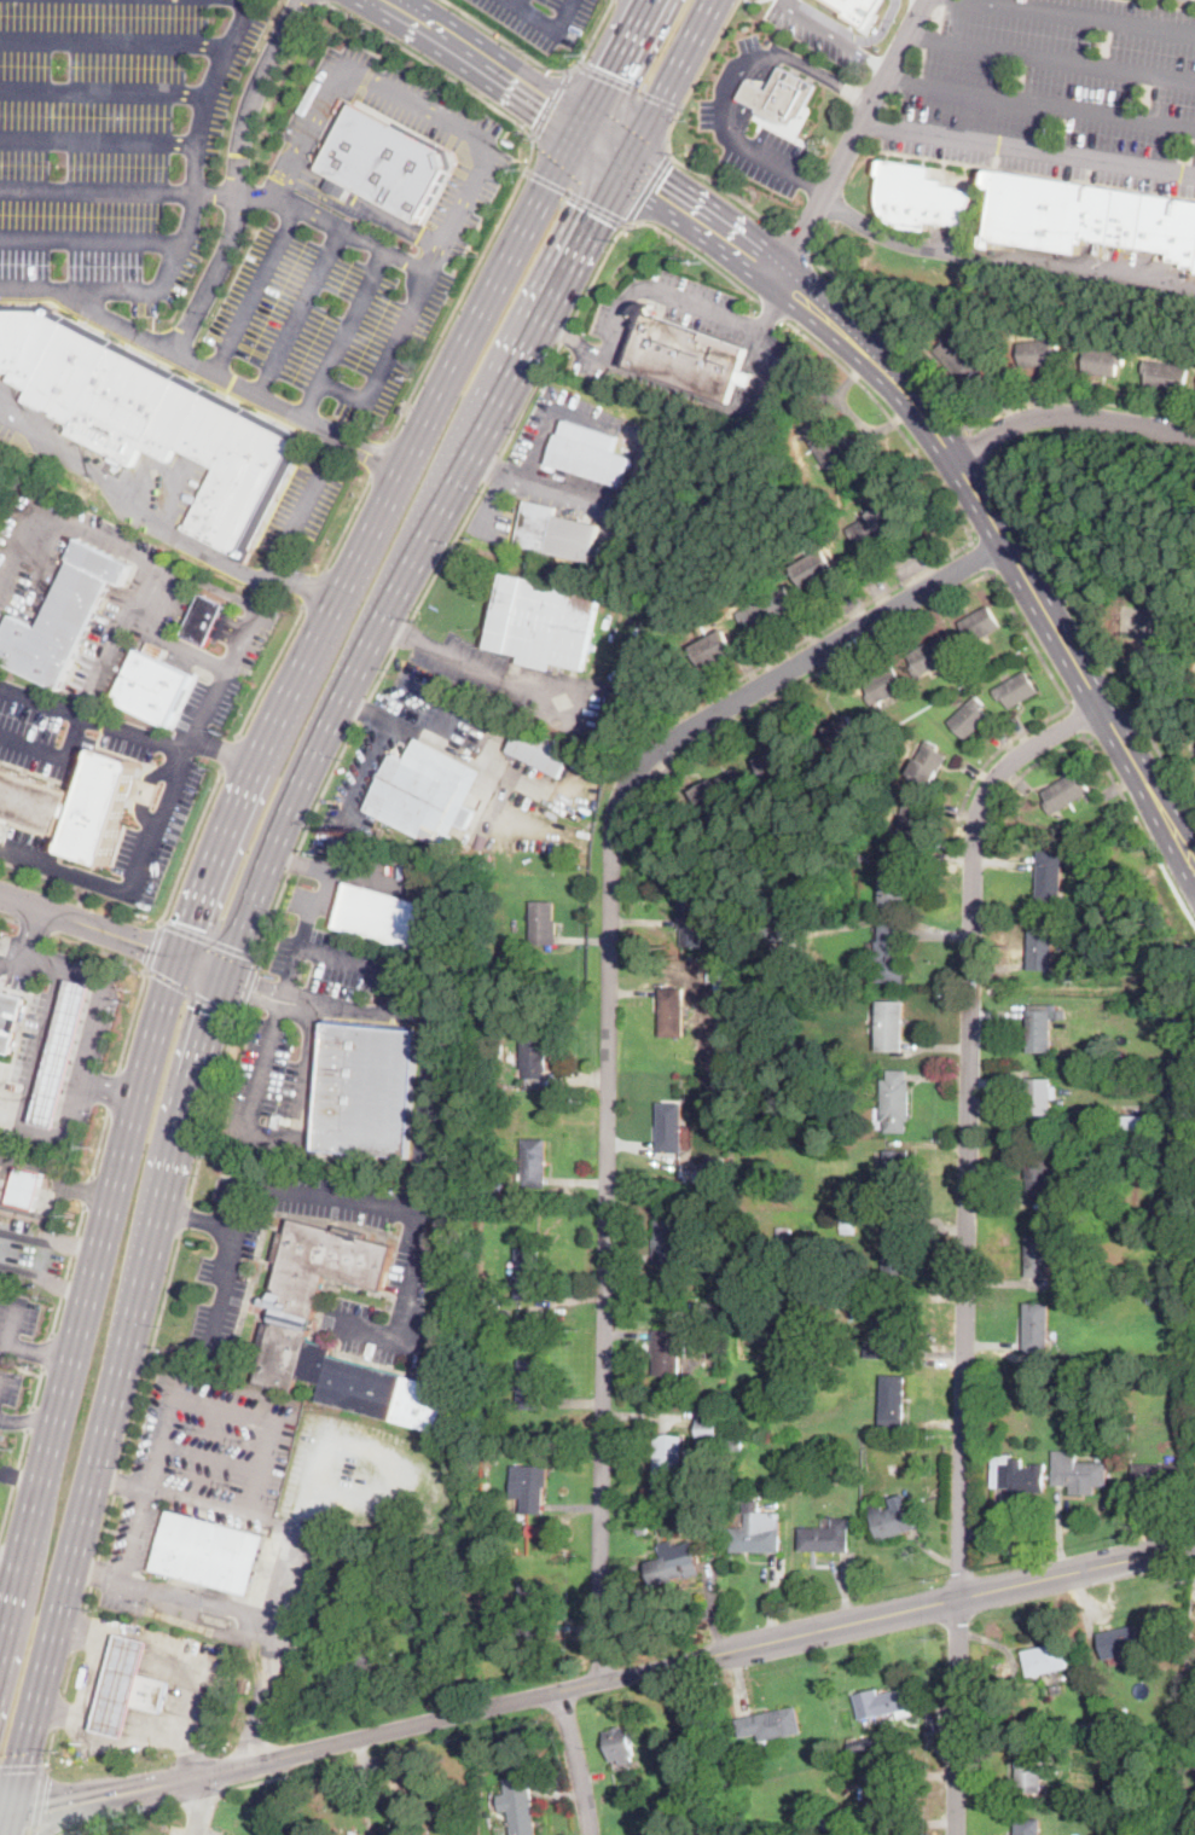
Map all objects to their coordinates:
road: (317, 1)
parking lot: (924, 4)
building: (853, 11)
road: (1072, 16)
parking lot: (543, 18)
road: (550, 25)
parking lot: (909, 30)
road: (835, 34)
road: (591, 35)
parking lot: (834, 39)
road: (505, 40)
road: (114, 41)
road: (384, 46)
road: (1052, 57)
road: (483, 59)
road: (430, 63)
traffic signals: (604, 68)
road: (697, 74)
road: (668, 82)
road: (736, 82)
road: (628, 85)
parking lot: (1052, 89)
road: (752, 91)
road: (103, 92)
building: (782, 97)
road: (1042, 99)
traffic signals: (545, 101)
road: (551, 101)
road: (439, 114)
parking lot: (726, 114)
road: (853, 139)
road: (98, 140)
road: (601, 144)
parking lot: (114, 145)
road: (1029, 149)
parking lot: (477, 151)
building: (387, 162)
road: (284, 169)
road: (237, 174)
road: (648, 186)
road: (724, 190)
road: (95, 191)
traffic signals: (654, 193)
road: (575, 194)
road: (325, 196)
building: (923, 198)
road: (365, 203)
road: (314, 214)
traffic signals: (597, 215)
building: (1087, 216)
road: (188, 221)
road: (628, 222)
road: (706, 228)
road: (89, 240)
road: (793, 243)
road: (696, 252)
road: (1002, 259)
road: (596, 271)
road: (255, 288)
road: (463, 288)
road: (651, 291)
road: (770, 308)
road: (300, 310)
road: (773, 310)
parking lot: (327, 320)
parking lot: (726, 326)
road: (344, 332)
road: (562, 332)
road: (565, 333)
road: (894, 339)
building: (1038, 353)
building: (688, 356)
building: (958, 356)
road: (388, 359)
building: (1103, 361)
building: (1166, 376)
road: (228, 377)
building: (746, 378)
parking lot: (1, 399)
road: (1079, 399)
road: (1069, 414)
road: (891, 417)
building: (152, 418)
building: (824, 443)
road: (980, 443)
parking lot: (530, 449)
road: (539, 454)
building: (591, 454)
road: (382, 458)
road: (488, 469)
building: (68, 474)
road: (565, 497)
road: (123, 498)
road: (302, 498)
parking lot: (302, 505)
parking lot: (493, 519)
road: (348, 524)
building: (875, 525)
building: (557, 533)
road: (106, 538)
road: (981, 554)
road: (1014, 559)
building: (814, 568)
road: (303, 579)
parking lot: (161, 588)
road: (315, 590)
road: (424, 596)
building: (766, 609)
building: (64, 617)
road: (843, 619)
building: (205, 620)
road: (120, 622)
building: (545, 622)
park: (1148, 622)
building: (979, 625)
road: (1090, 632)
road: (1029, 637)
road: (174, 643)
building: (714, 649)
road: (233, 651)
building: (929, 656)
road: (463, 663)
road: (1143, 663)
parking lot: (227, 666)
road: (271, 673)
road: (813, 675)
road: (1142, 683)
building: (883, 685)
building: (153, 689)
building: (1017, 690)
road: (82, 714)
building: (970, 718)
road: (1077, 720)
road: (405, 728)
building: (845, 731)
parking lot: (64, 734)
road: (376, 743)
road: (210, 745)
road: (1007, 745)
parking lot: (393, 747)
building: (541, 750)
road: (56, 753)
road: (231, 754)
building: (775, 762)
building: (929, 763)
road: (242, 789)
road: (149, 790)
building: (721, 790)
building: (147, 791)
building: (427, 792)
building: (1065, 792)
road: (1126, 801)
building: (76, 805)
building: (913, 815)
parking lot: (153, 840)
road: (192, 846)
parking lot: (30, 849)
road: (291, 860)
road: (300, 860)
building: (1051, 876)
road: (134, 879)
building: (895, 882)
road: (313, 904)
road: (271, 913)
building: (694, 914)
building: (384, 916)
road: (10, 918)
traffic signals: (187, 922)
building: (544, 923)
road: (37, 928)
building: (773, 929)
road: (111, 931)
road: (35, 935)
road: (209, 939)
building: (708, 942)
traffic signals: (147, 945)
road: (156, 947)
road: (101, 950)
building: (1040, 950)
building: (893, 953)
road: (13, 959)
road: (222, 966)
road: (292, 966)
building: (1072, 974)
parking lot: (18, 975)
building: (719, 985)
road: (245, 987)
road: (190, 991)
traffic signals: (254, 992)
building: (720, 1004)
road: (609, 1005)
traffic signals: (210, 1012)
building: (673, 1012)
building: (1181, 1018)
building: (10, 1020)
road: (132, 1021)
building: (892, 1027)
parking lot: (311, 1030)
building: (1039, 1032)
parking lot: (37, 1034)
building: (499, 1047)
road: (42, 1049)
road: (91, 1052)
gas station: (64, 1053)
building: (65, 1053)
building: (534, 1055)
building: (1110, 1055)
road: (304, 1073)
parking lot: (2, 1074)
road: (109, 1088)
building: (768, 1088)
road: (112, 1091)
building: (369, 1091)
building: (1184, 1093)
building: (897, 1101)
building: (1040, 1101)
road: (210, 1107)
road: (428, 1108)
building: (277, 1120)
building: (1090, 1120)
building: (1137, 1125)
building: (672, 1127)
road: (100, 1145)
building: (534, 1163)
building: (718, 1167)
parking lot: (6, 1168)
building: (894, 1169)
building: (1040, 1180)
building: (29, 1185)
building: (497, 1185)
road: (246, 1186)
road: (62, 1190)
road: (86, 1190)
road: (87, 1191)
road: (181, 1215)
road: (197, 1219)
building: (848, 1226)
road: (0, 1229)
building: (784, 1236)
road: (48, 1237)
road: (965, 1239)
building: (667, 1243)
building: (897, 1245)
building: (723, 1247)
building: (1038, 1253)
parking lot: (33, 1256)
parking lot: (220, 1259)
road: (16, 1270)
building: (720, 1270)
building: (753, 1270)
road: (68, 1271)
building: (528, 1273)
building: (662, 1281)
road: (57, 1283)
building: (743, 1288)
building: (313, 1295)
building: (492, 1296)
building: (810, 1296)
building: (1153, 1297)
parking lot: (354, 1302)
building: (714, 1312)
road: (16, 1320)
parking lot: (18, 1320)
building: (1037, 1328)
building: (889, 1332)
road: (40, 1349)
road: (149, 1351)
building: (669, 1351)
road: (46, 1352)
building: (530, 1372)
building: (1062, 1376)
road: (1, 1377)
road: (37, 1386)
building: (361, 1387)
parking lot: (11, 1395)
building: (530, 1396)
building: (893, 1401)
building: (422, 1403)
road: (29, 1417)
road: (28, 1418)
building: (1106, 1423)
building: (704, 1425)
road: (164, 1432)
road: (215, 1445)
building: (735, 1445)
parking lot: (215, 1447)
parking lot: (1, 1453)
building: (1040, 1454)
road: (266, 1456)
building: (667, 1462)
building: (1078, 1473)
road: (19, 1474)
building: (1017, 1475)
building: (1154, 1475)
parking lot: (371, 1479)
road: (13, 1480)
road: (116, 1480)
road: (118, 1481)
building: (799, 1481)
building: (534, 1490)
building: (667, 1508)
building: (893, 1520)
road: (105, 1523)
building: (675, 1527)
building: (708, 1531)
building: (759, 1532)
parking lot: (135, 1537)
building: (825, 1537)
building: (210, 1552)
road: (10, 1558)
building: (674, 1563)
road: (94, 1569)
road: (94, 1569)
parking lot: (286, 1586)
road: (87, 1596)
parking lot: (180, 1604)
building: (533, 1608)
road: (277, 1616)
road: (79, 1630)
road: (0, 1633)
building: (1121, 1643)
building: (369, 1656)
building: (1045, 1660)
road: (659, 1667)
road: (199, 1668)
road: (68, 1672)
road: (94, 1674)
building: (128, 1688)
gas station: (128, 1688)
building: (245, 1688)
building: (1056, 1688)
road: (265, 1691)
building: (882, 1702)
road: (57, 1709)
road: (133, 1725)
building: (771, 1726)
building: (1058, 1727)
building: (1092, 1727)
building: (1060, 1741)
building: (622, 1744)
building: (862, 1746)
building: (495, 1747)
road: (48, 1748)
building: (1049, 1752)
building: (686, 1754)
road: (576, 1761)
road: (22, 1765)
building: (1029, 1772)
building: (1123, 1772)
road: (254, 1779)
road: (203, 1795)
road: (202, 1798)
road: (37, 1801)
building: (888, 1802)
road: (62, 1806)
traffic signals: (45, 1810)
road: (82, 1811)
road: (123, 1816)
building: (523, 1816)
building: (1125, 1823)
building: (834, 1824)
building: (1028, 1827)
road: (192, 1829)
parking lot: (193, 1830)
road: (79, 1831)
building: (1191, 1831)

